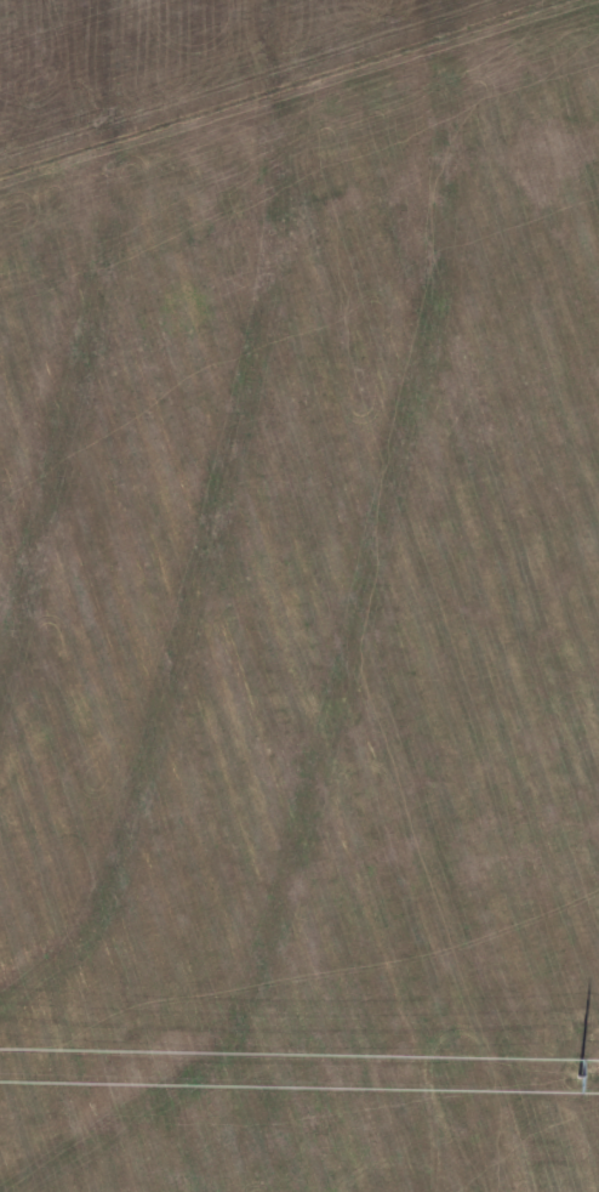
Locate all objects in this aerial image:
power tower: (580, 1075)

